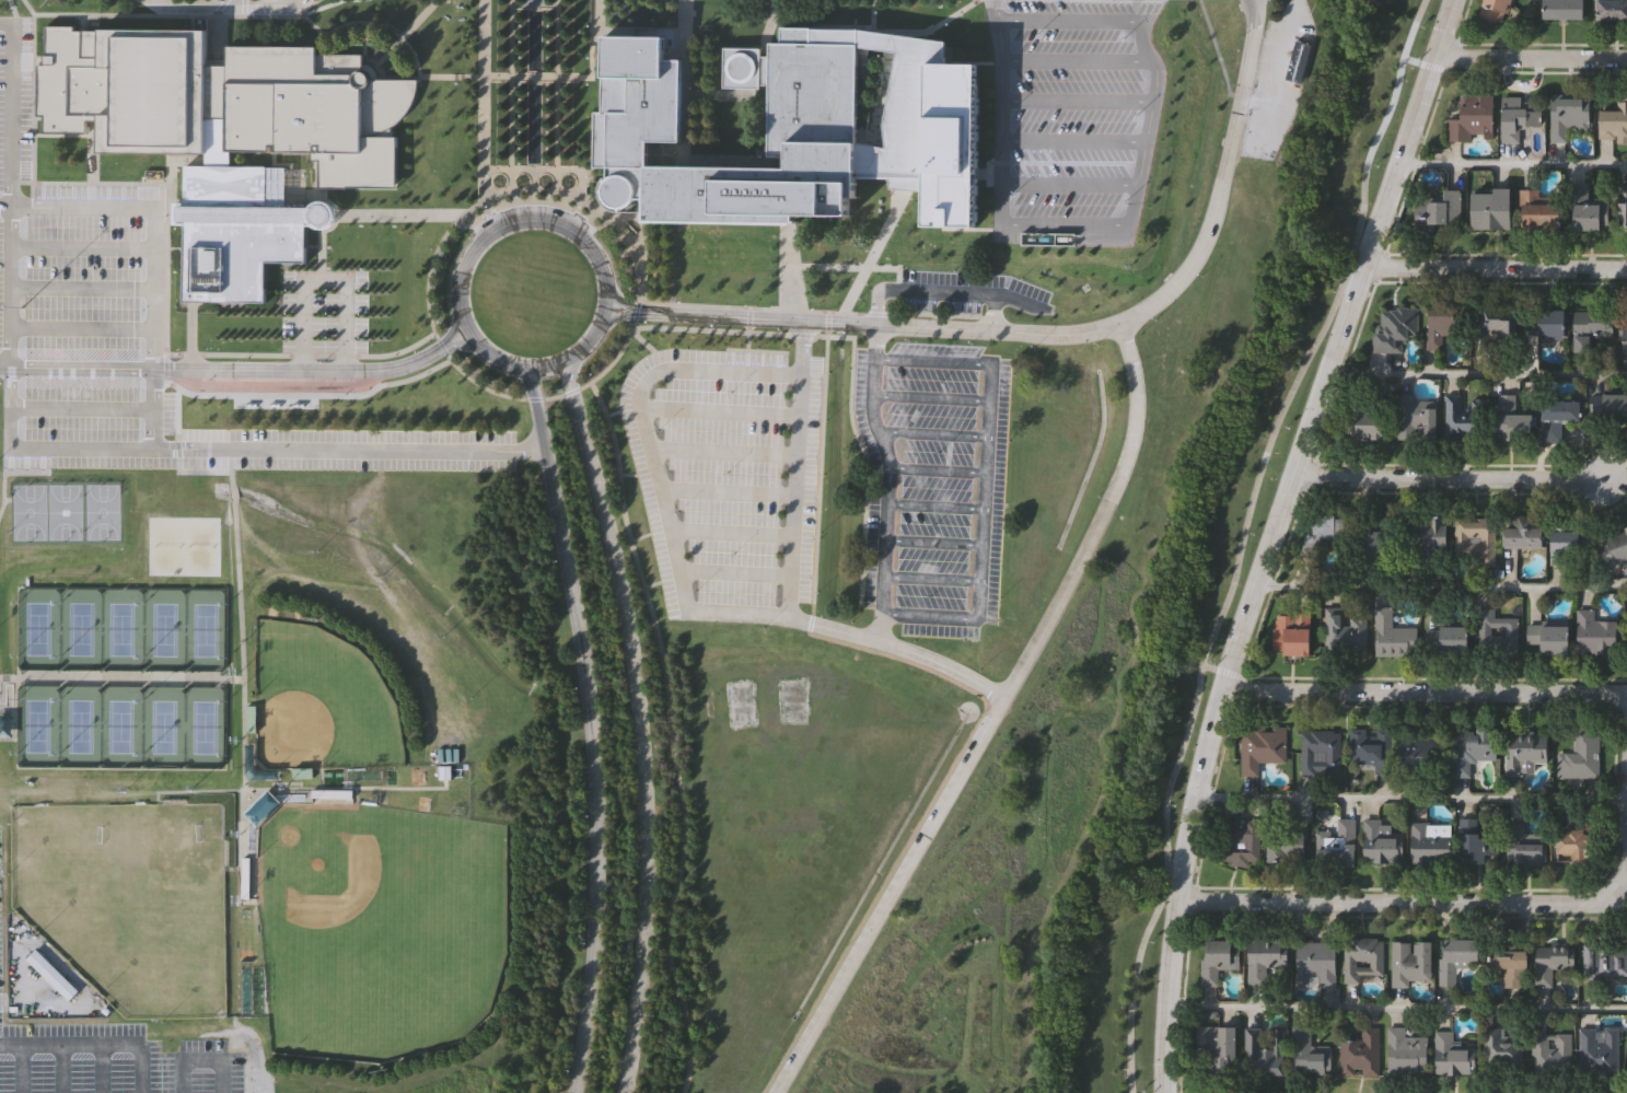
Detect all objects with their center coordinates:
road: (291, 0)
road: (321, 7)
road: (535, 7)
road: (13, 8)
building: (1566, 9)
building: (1611, 9)
building: (1497, 10)
road: (117, 14)
road: (231, 15)
road: (1067, 21)
road: (352, 22)
road: (872, 22)
street lamp: (588, 25)
street lamp: (520, 26)
street lamp: (548, 26)
road: (656, 31)
road: (896, 32)
road: (405, 34)
road: (903, 34)
road: (365, 40)
street lamp: (520, 42)
street lamp: (548, 42)
road: (1218, 51)
street lamp: (588, 57)
street lamp: (520, 58)
street lamp: (548, 58)
road: (1531, 58)
road: (1077, 61)
building: (1300, 62)
road: (1423, 63)
road: (527, 77)
street lamp: (520, 84)
street lamp: (548, 84)
street lamp: (588, 84)
road: (1001, 92)
road: (714, 94)
road: (485, 100)
street lamp: (520, 100)
street lamp: (548, 100)
building: (223, 101)
road: (1078, 102)
road: (1153, 103)
building: (1570, 114)
street lamp: (547, 116)
building: (1520, 116)
street lamp: (520, 117)
building: (1474, 117)
parking lot: (1072, 119)
building: (1614, 120)
building: (793, 131)
street lamp: (520, 132)
street lamp: (547, 132)
road: (1073, 141)
road: (683, 147)
street lamp: (520, 149)
street lamp: (547, 149)
building: (213, 161)
street lamp: (519, 164)
street lamp: (547, 164)
road: (1512, 166)
road: (498, 170)
road: (534, 170)
road: (582, 172)
road: (1221, 181)
road: (1069, 186)
road: (12, 189)
building: (1624, 204)
road: (1001, 206)
road: (1132, 206)
building: (1440, 206)
building: (1492, 208)
building: (1590, 208)
road: (158, 210)
building: (1539, 210)
road: (400, 214)
road: (1065, 225)
building: (236, 232)
road: (322, 237)
road: (84, 247)
road: (873, 249)
road: (166, 254)
road: (467, 257)
road: (786, 266)
road: (848, 266)
road: (1495, 267)
road: (323, 280)
road: (84, 289)
road: (944, 291)
parking lot: (964, 292)
road: (604, 296)
parking lot: (323, 311)
road: (817, 311)
road: (995, 311)
road: (747, 319)
road: (862, 323)
building: (1500, 323)
building: (1552, 323)
road: (827, 324)
building: (1443, 325)
building: (1395, 326)
road: (83, 327)
building: (1594, 330)
parking lot: (132, 336)
building: (1625, 337)
road: (642, 340)
road: (747, 341)
road: (491, 354)
road: (852, 361)
road: (933, 361)
road: (5, 367)
road: (101, 368)
road: (334, 369)
road: (1477, 374)
road: (279, 384)
road: (581, 386)
road: (305, 395)
road: (932, 398)
building: (1611, 405)
building: (251, 406)
building: (275, 406)
building: (299, 406)
road: (82, 408)
road: (717, 411)
road: (613, 412)
building: (1419, 415)
building: (1465, 415)
building: (1559, 416)
road: (639, 418)
building: (1512, 419)
building: (1371, 423)
road: (932, 433)
road: (45, 441)
road: (170, 443)
road: (403, 444)
road: (721, 452)
road: (177, 455)
road: (794, 467)
road: (821, 469)
road: (938, 469)
road: (5, 473)
road: (627, 474)
road: (1446, 477)
road: (230, 478)
parking lot: (727, 479)
road: (888, 482)
parking lot: (934, 484)
road: (725, 491)
road: (984, 491)
road: (233, 495)
road: (935, 505)
park: (30, 512)
park: (66, 512)
park: (103, 512)
building: (1330, 525)
road: (729, 532)
building: (1525, 532)
building: (1434, 533)
road: (639, 537)
road: (1242, 538)
road: (1271, 538)
building: (1476, 540)
road: (934, 542)
building: (1573, 544)
building: (1615, 544)
building: (1375, 545)
park: (185, 546)
road: (734, 572)
road: (932, 578)
road: (651, 584)
road: (1440, 590)
road: (813, 608)
road: (930, 616)
road: (809, 624)
park: (36, 629)
park: (80, 629)
park: (120, 629)
park: (163, 630)
park: (205, 630)
building: (1346, 630)
building: (1498, 631)
building: (1294, 632)
building: (1596, 633)
road: (851, 635)
building: (1394, 636)
building: (1550, 638)
building: (1448, 639)
road: (1222, 670)
road: (242, 679)
road: (1425, 690)
park: (321, 700)
park: (792, 701)
park: (740, 705)
road: (991, 719)
road: (638, 722)
park: (36, 725)
park: (79, 726)
park: (118, 726)
park: (163, 726)
park: (204, 726)
road: (586, 728)
road: (671, 735)
building: (1263, 747)
building: (1473, 747)
building: (1371, 748)
building: (1323, 752)
building: (1526, 752)
building: (1423, 754)
building: (1582, 755)
building: (249, 758)
road: (1409, 800)
building: (265, 812)
road: (922, 815)
building: (1241, 841)
building: (1383, 841)
building: (1432, 842)
building: (1476, 842)
building: (1288, 844)
building: (1339, 844)
building: (1576, 844)
building: (1526, 846)
park: (128, 899)
road: (1481, 904)
parking lot: (872, 916)
park: (379, 928)
building: (1459, 956)
building: (1220, 958)
building: (1266, 958)
building: (1364, 958)
building: (1605, 958)
building: (1554, 961)
building: (1413, 962)
building: (1317, 963)
building: (1515, 968)
road: (1396, 1010)
road: (71, 1045)
building: (1218, 1047)
building: (1504, 1048)
building: (1600, 1048)
building: (1266, 1050)
building: (1407, 1051)
building: (1310, 1053)
building: (1362, 1054)
building: (1554, 1055)
building: (1454, 1056)
parking lot: (111, 1058)
road: (202, 1060)
road: (20, 1069)
road: (59, 1069)
road: (101, 1069)
road: (142, 1069)

